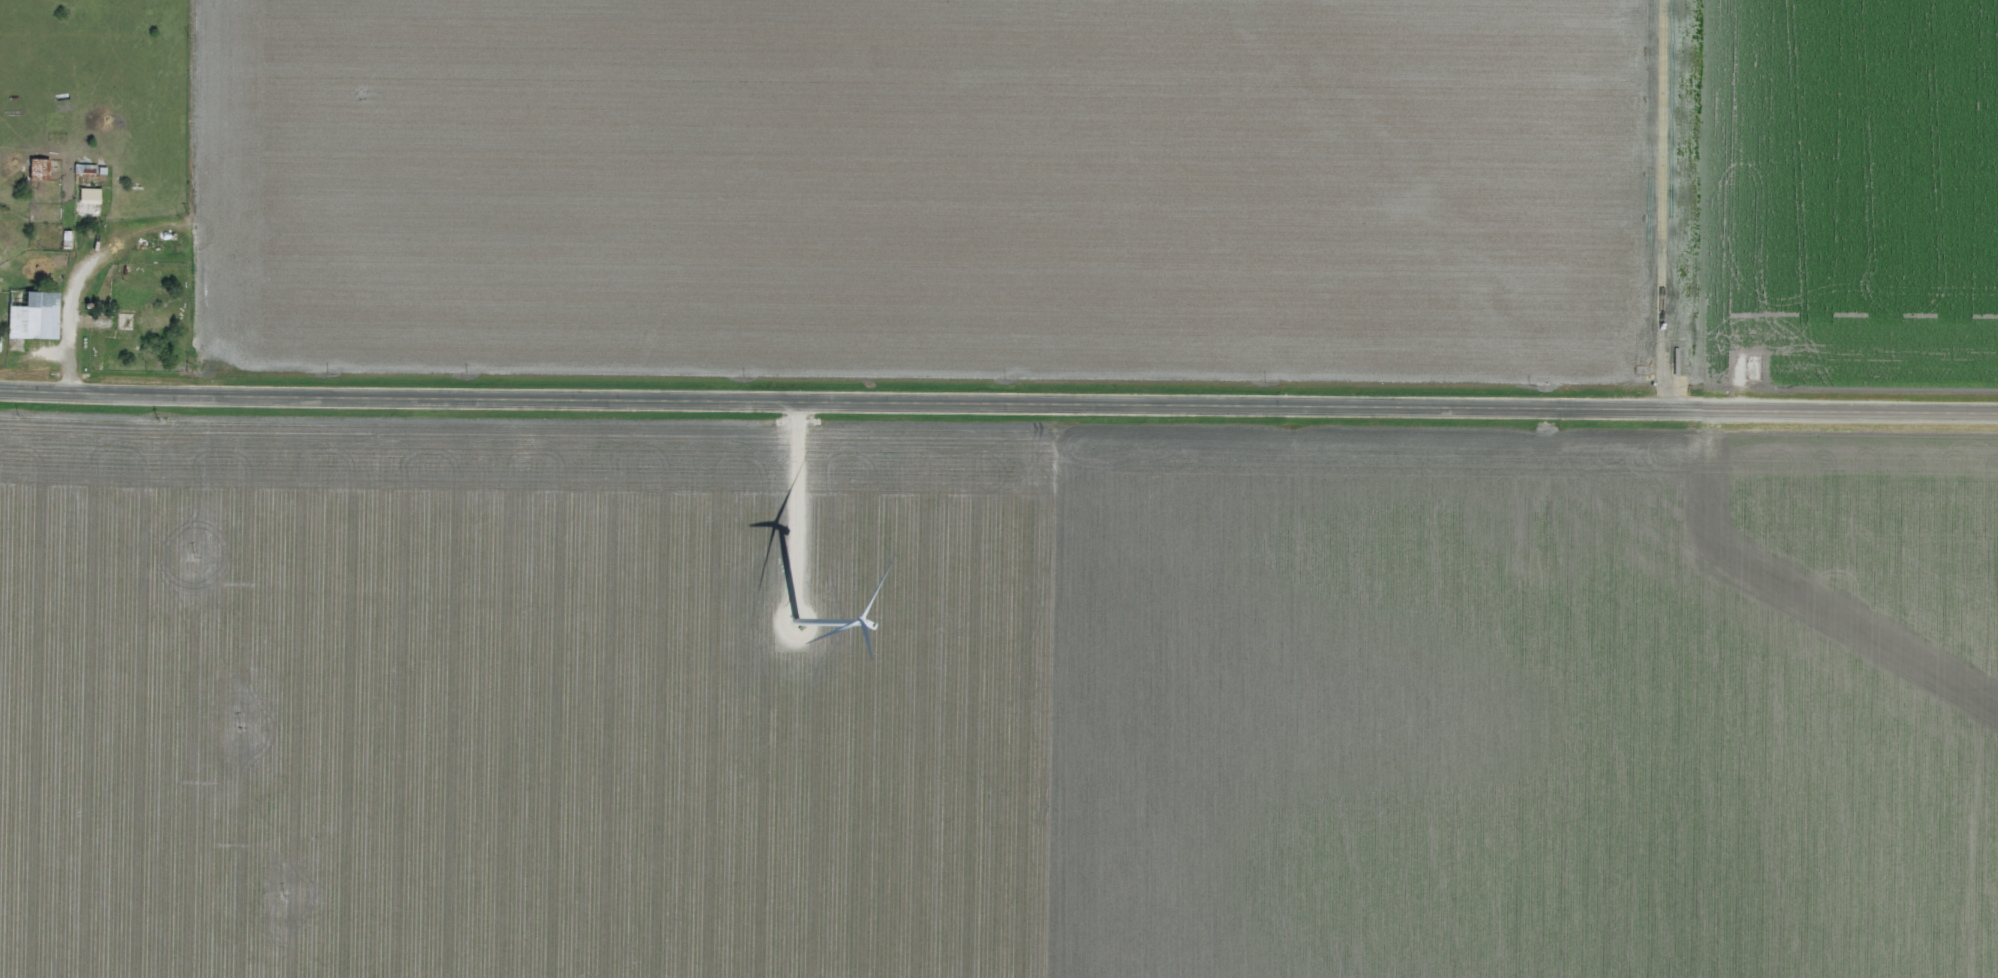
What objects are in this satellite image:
building: (36, 170)
building: (30, 315)
road: (998, 402)
wind turbine: (804, 630)

